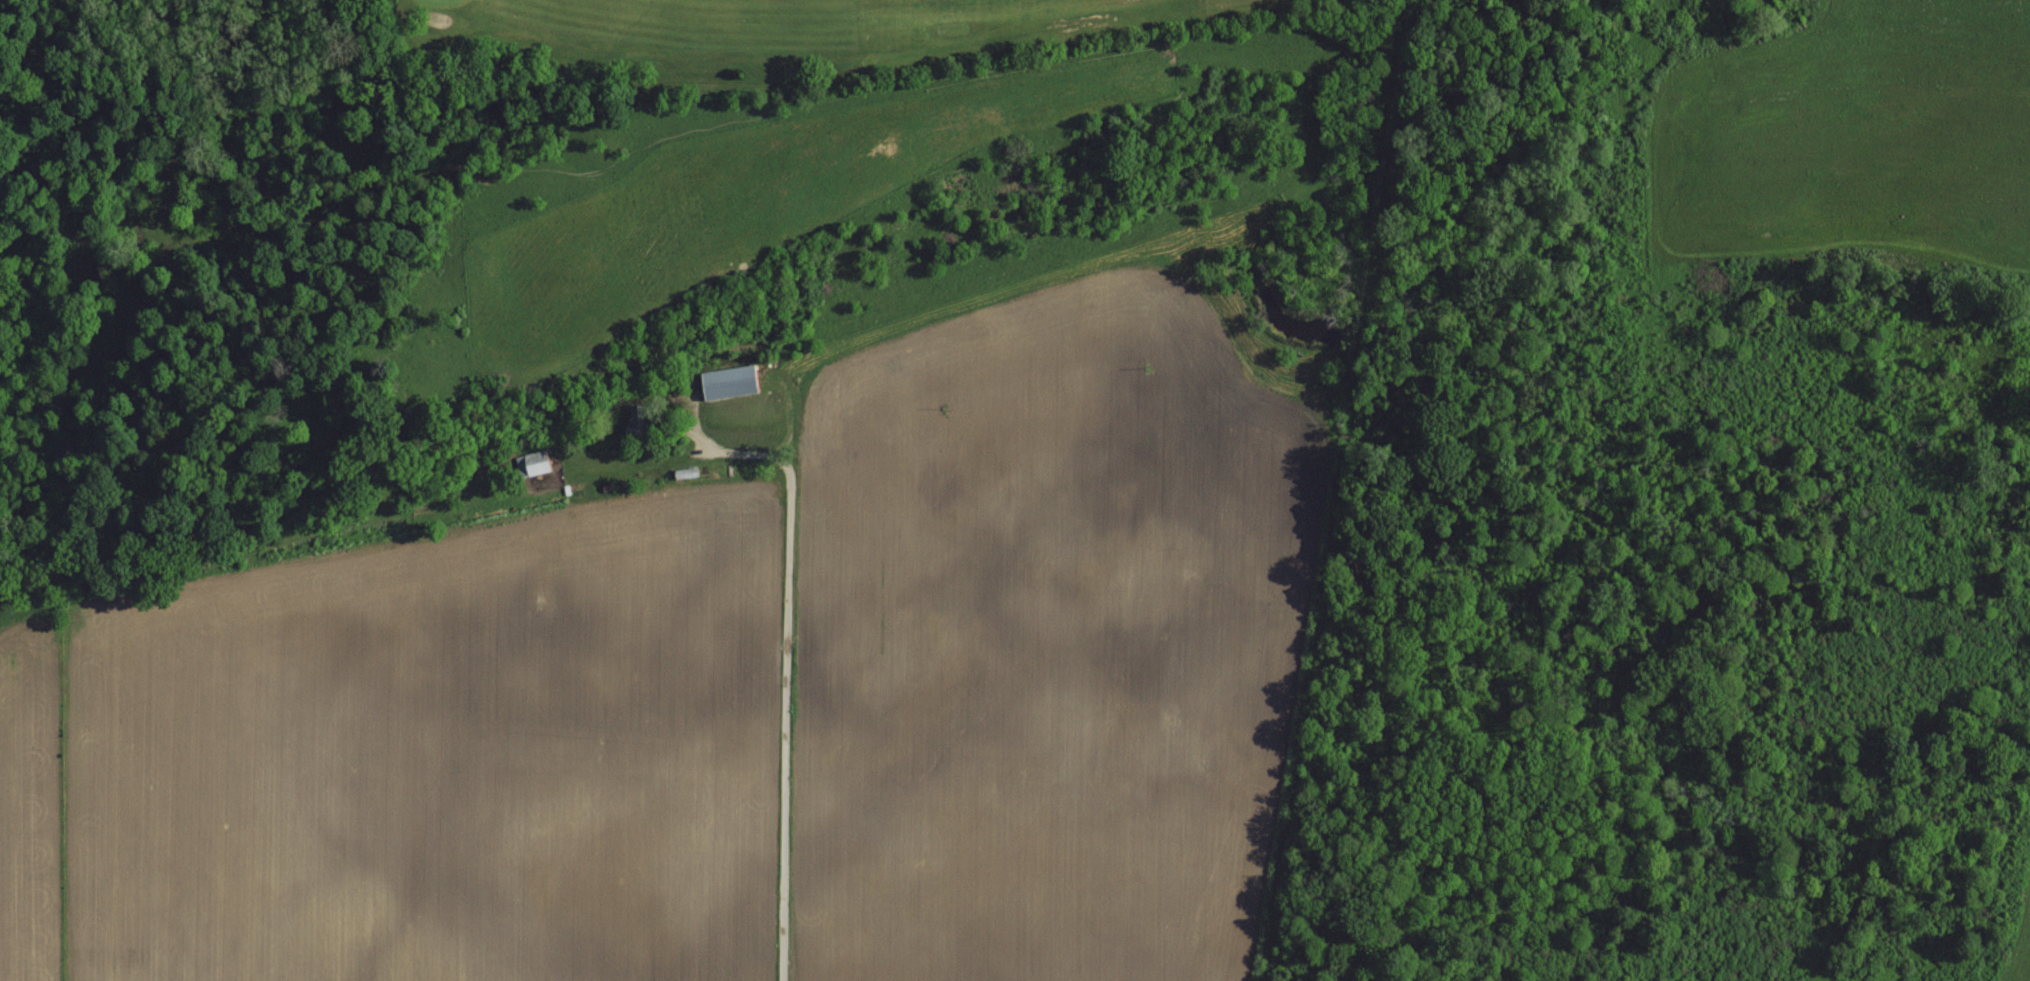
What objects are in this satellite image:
park: (744, 28)
building: (724, 381)
road: (786, 657)

